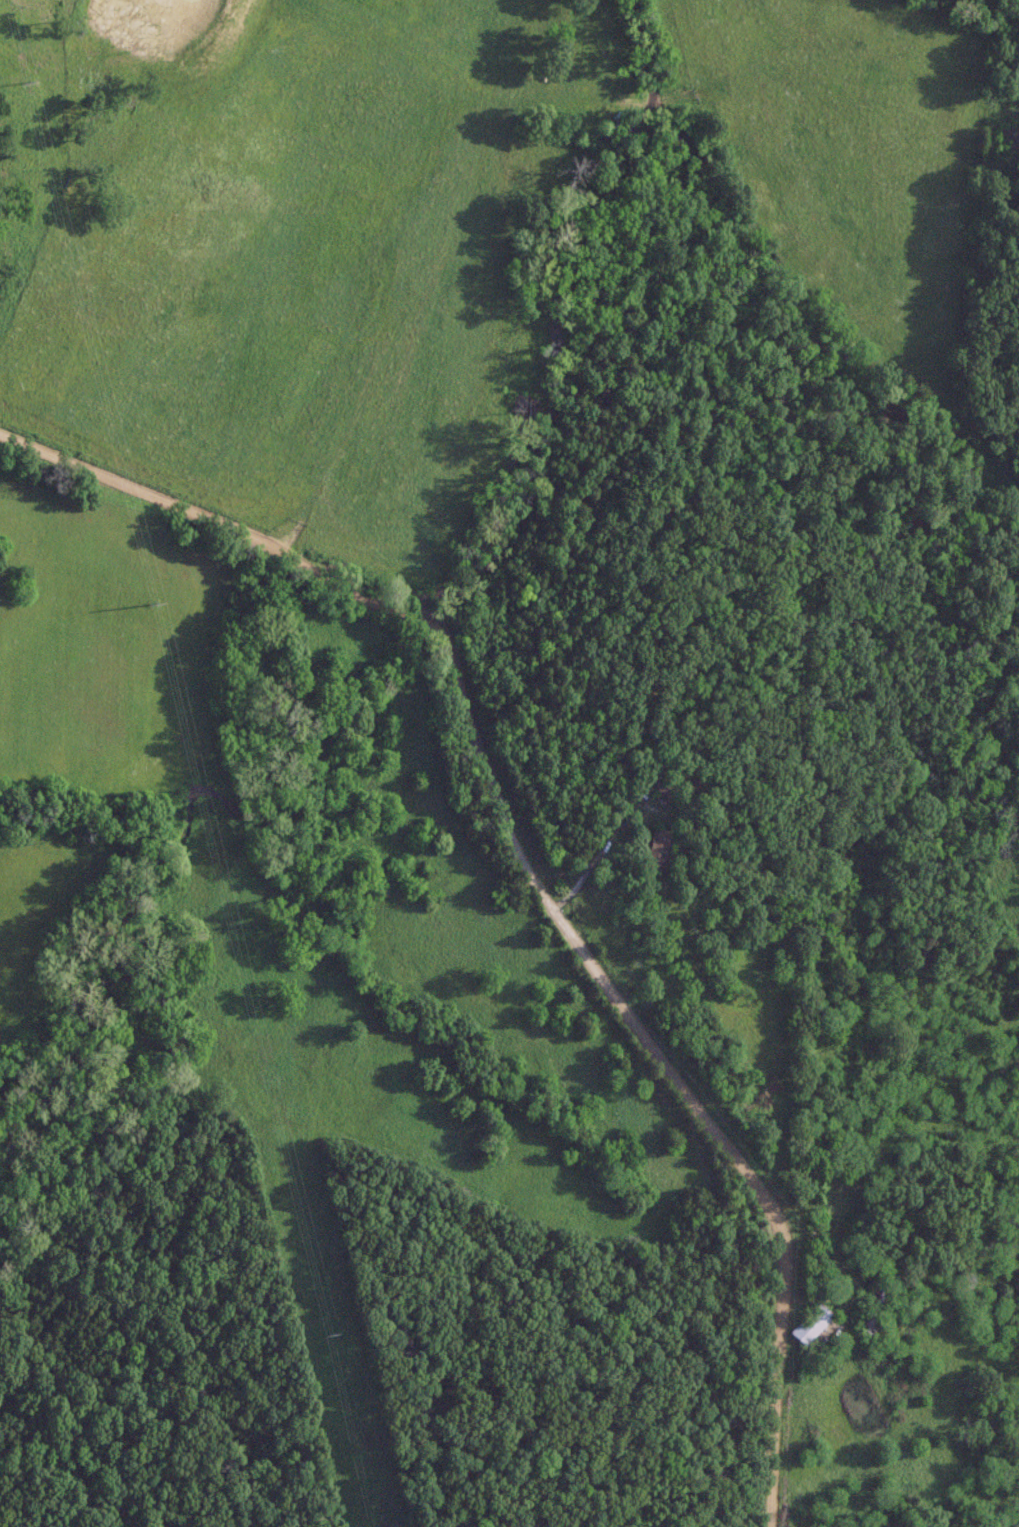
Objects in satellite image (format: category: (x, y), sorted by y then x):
power tower: (17, 83)
power tower: (145, 606)
road: (603, 842)
building: (656, 849)
road: (528, 874)
building: (873, 1307)
building: (809, 1324)
power tower: (316, 1336)

